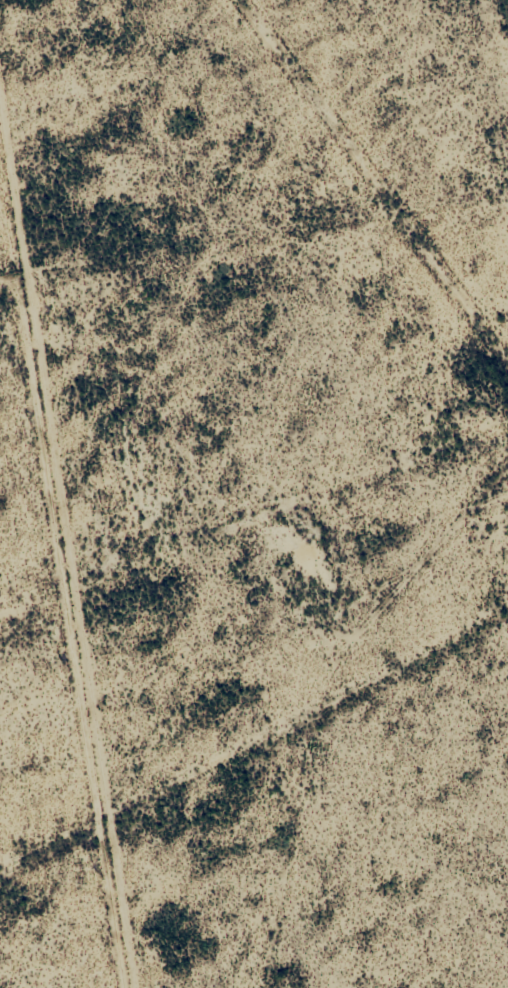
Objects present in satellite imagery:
road: (371, 172)

